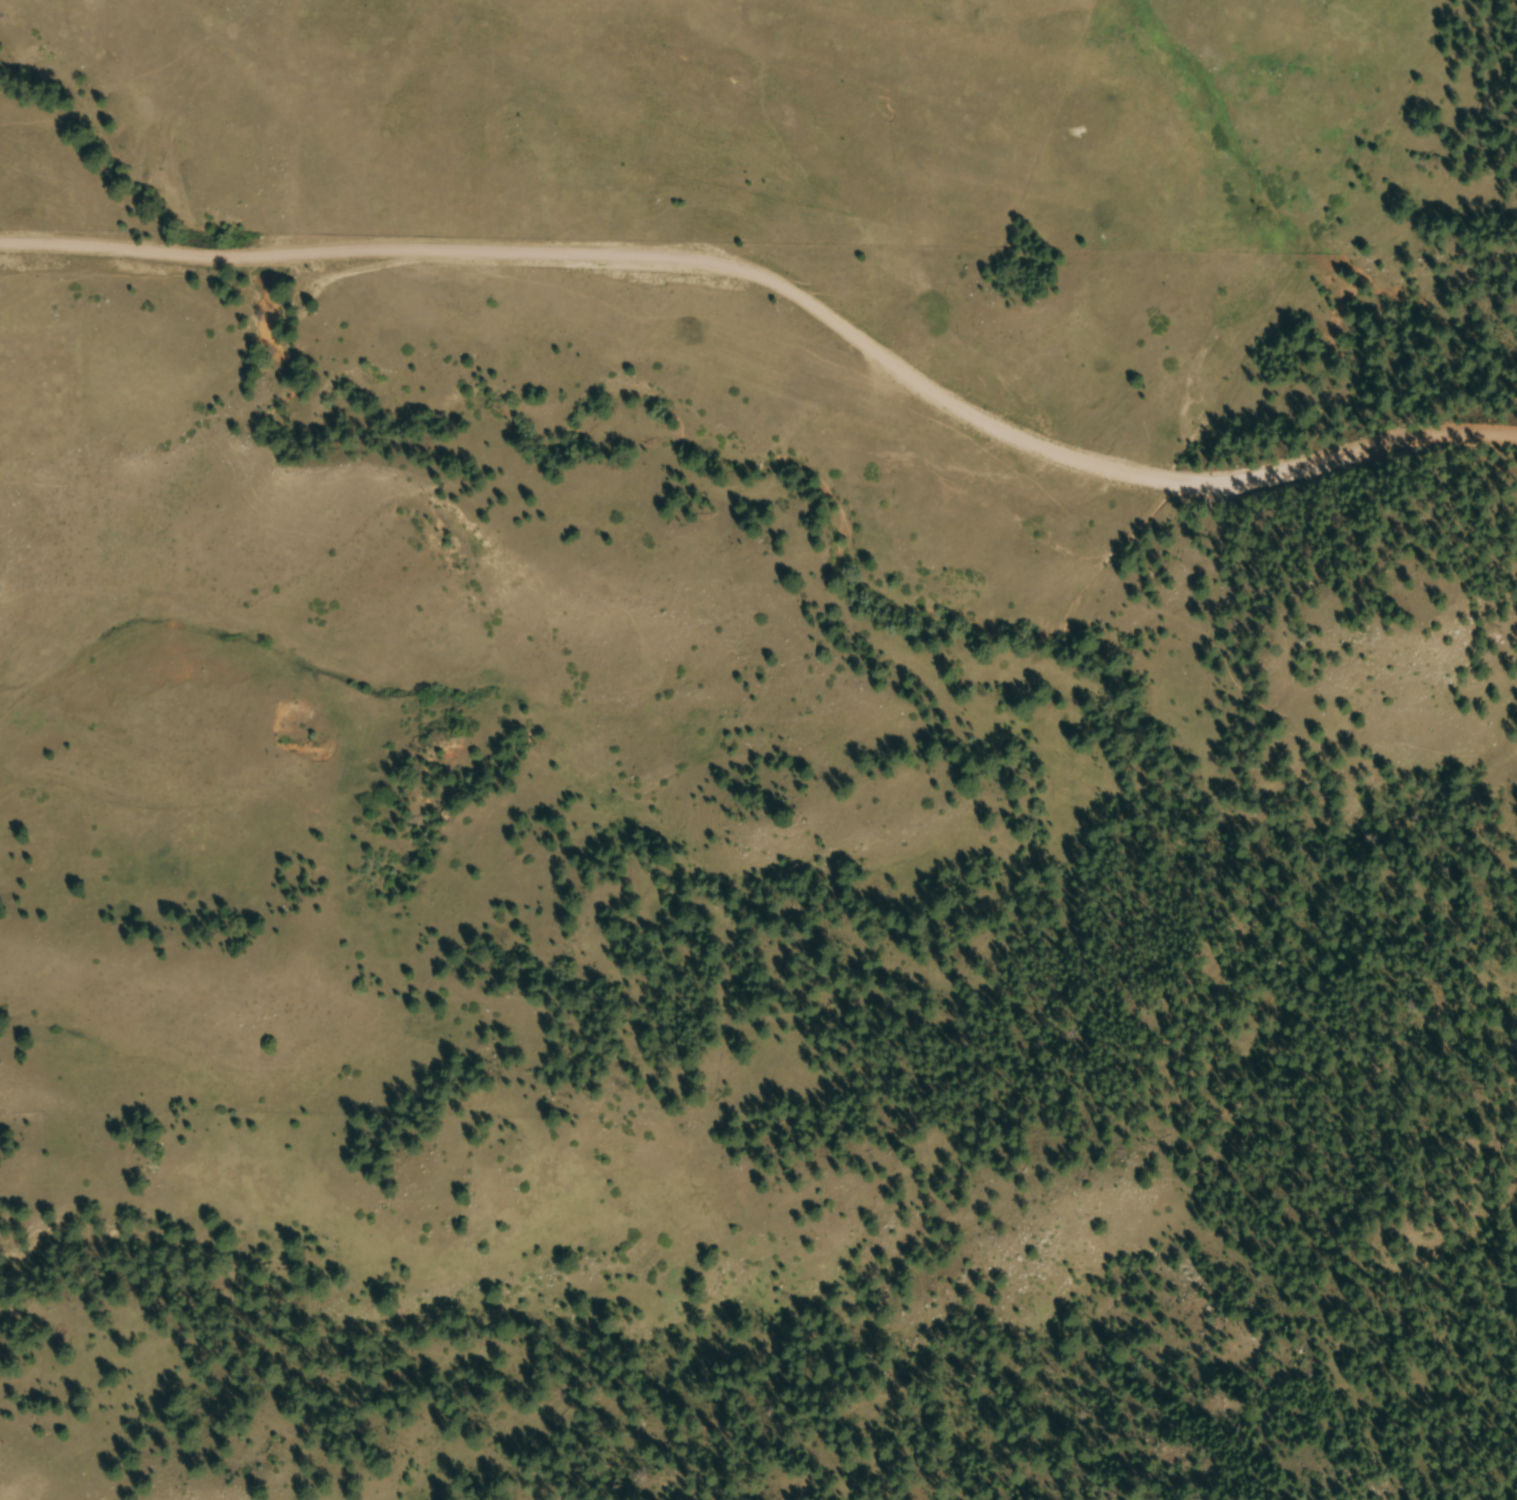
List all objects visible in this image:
road: (781, 289)

